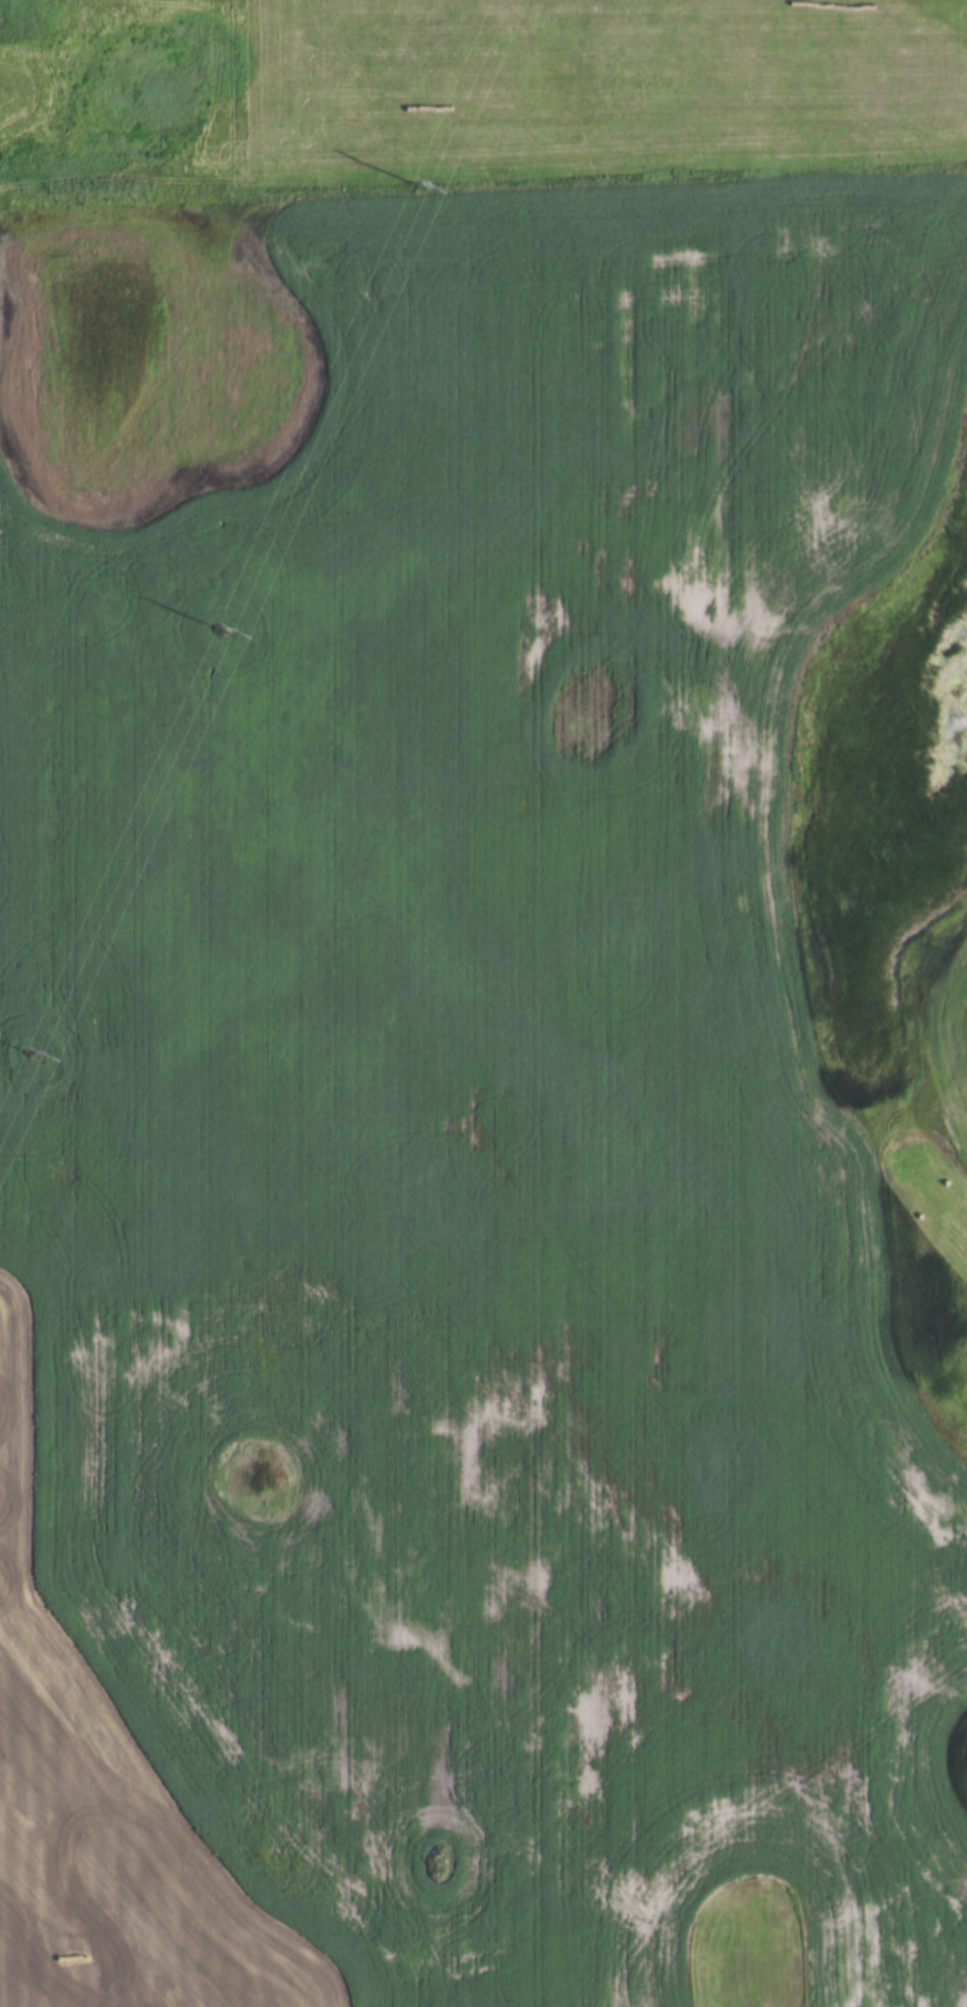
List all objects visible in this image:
power tower: (416, 185)
power tower: (215, 627)
power tower: (28, 1053)

